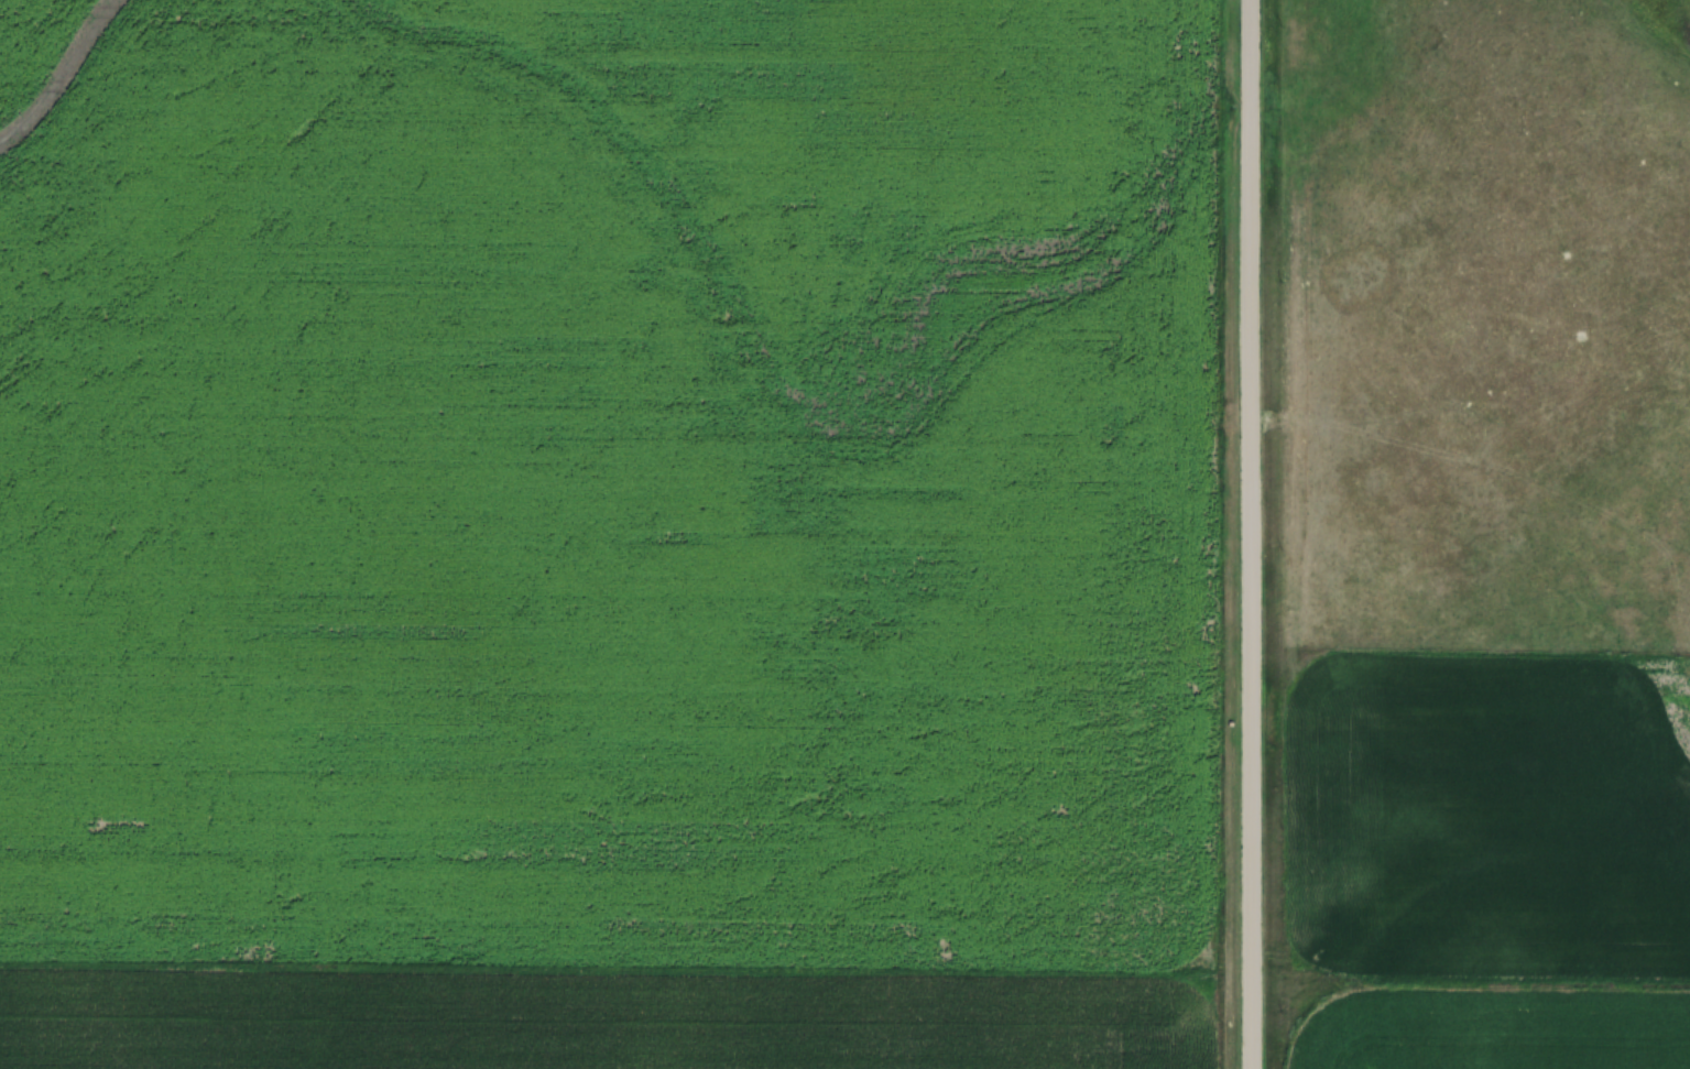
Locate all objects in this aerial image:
road: (1252, 534)

